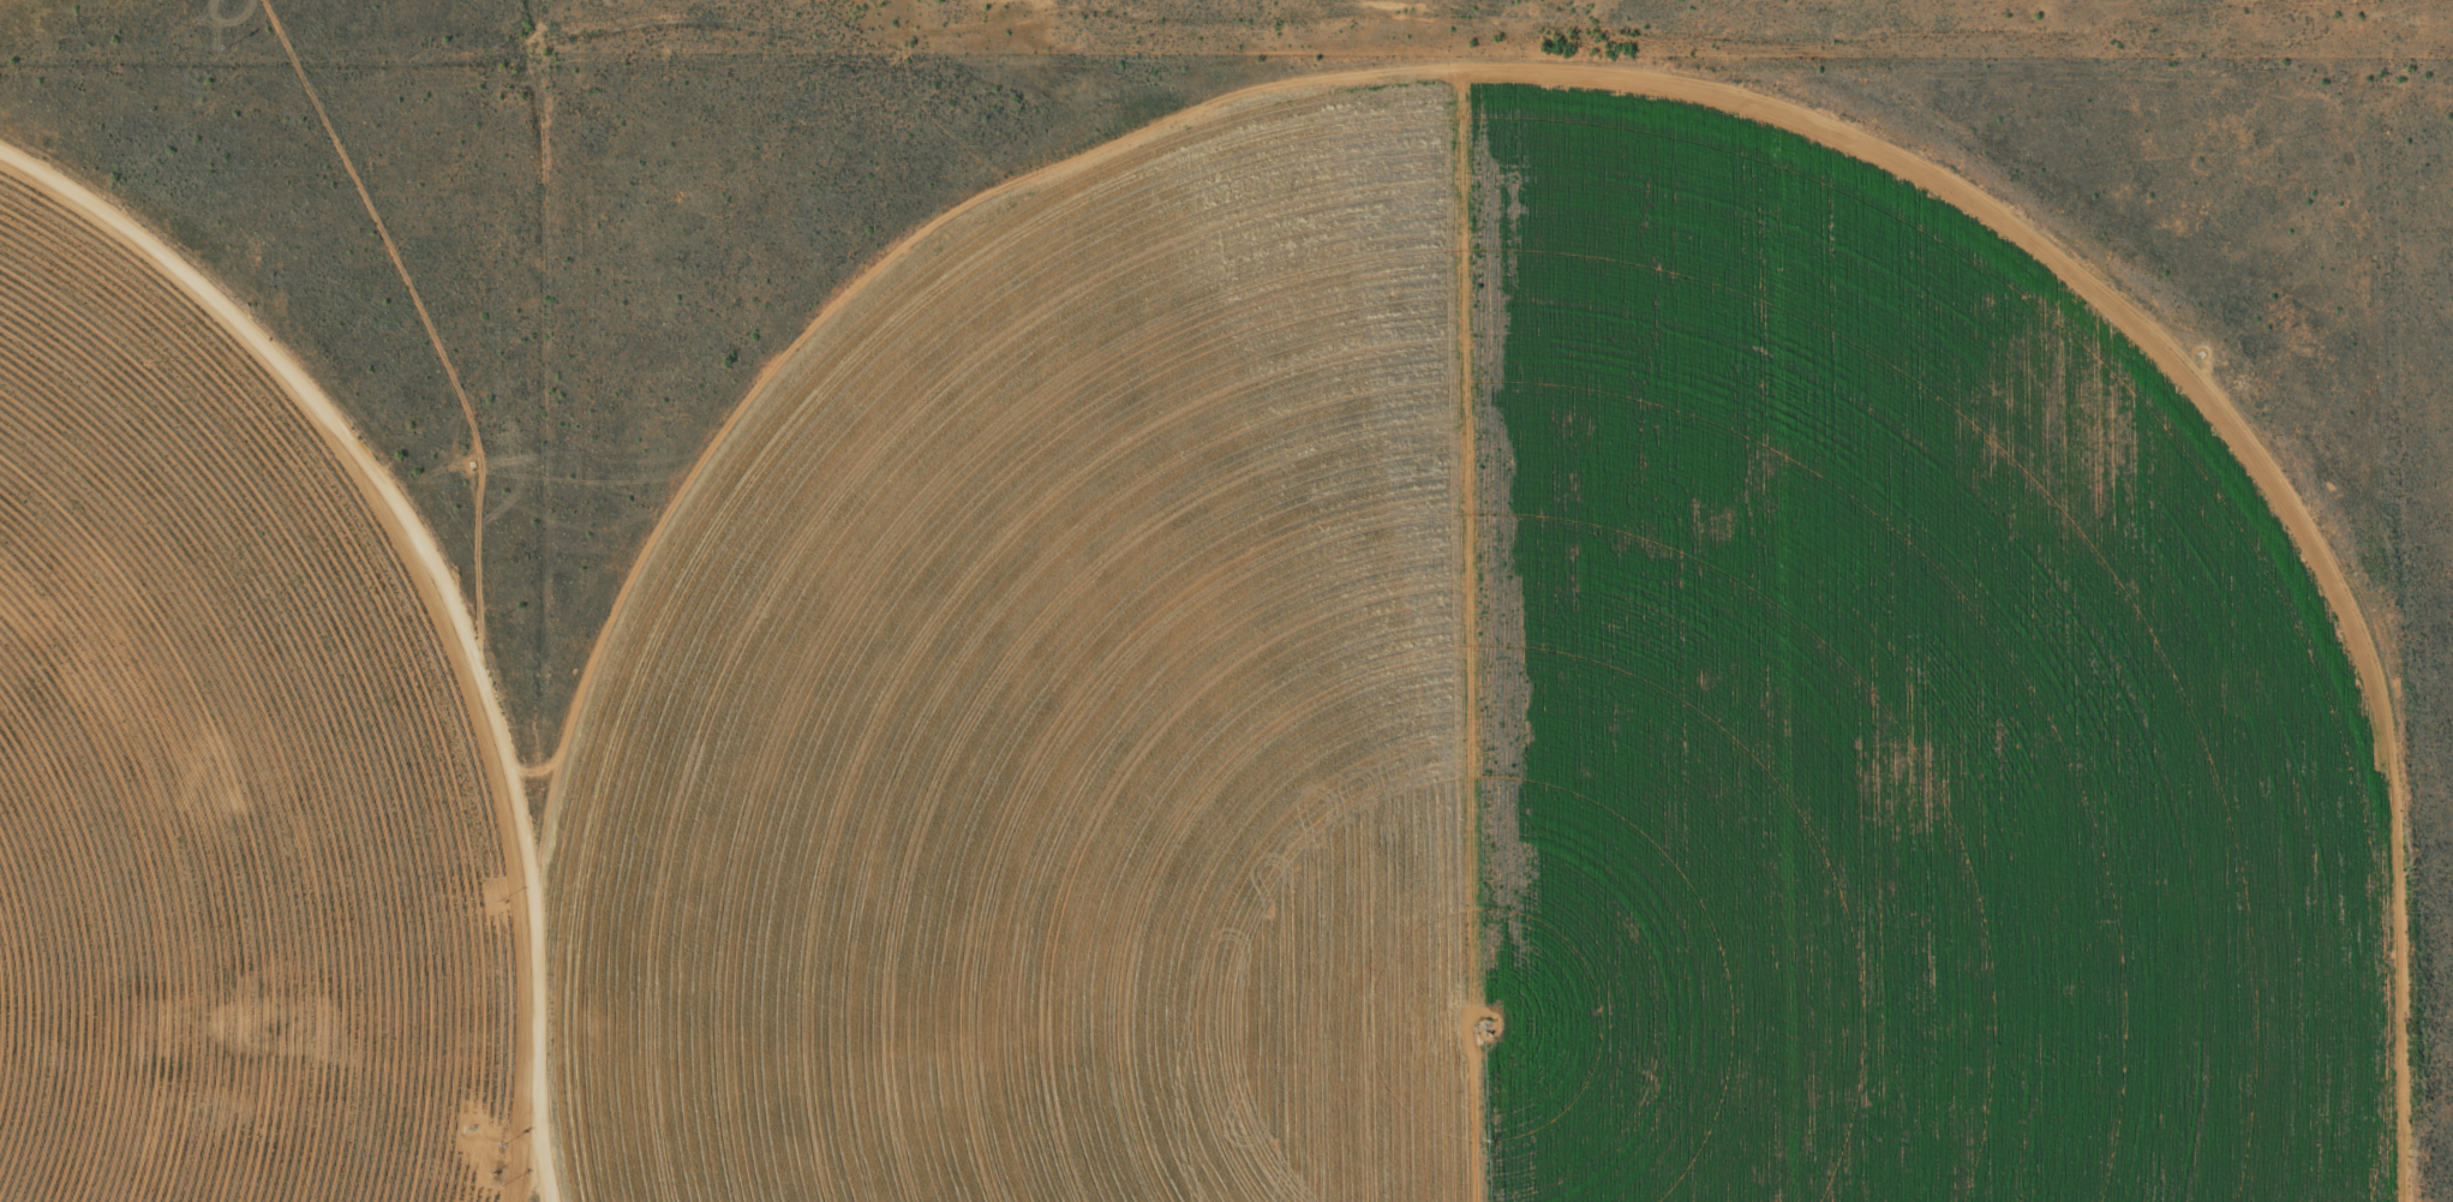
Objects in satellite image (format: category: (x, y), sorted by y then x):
road: (1226, 40)
road: (560, 1075)
road: (545, 1138)

